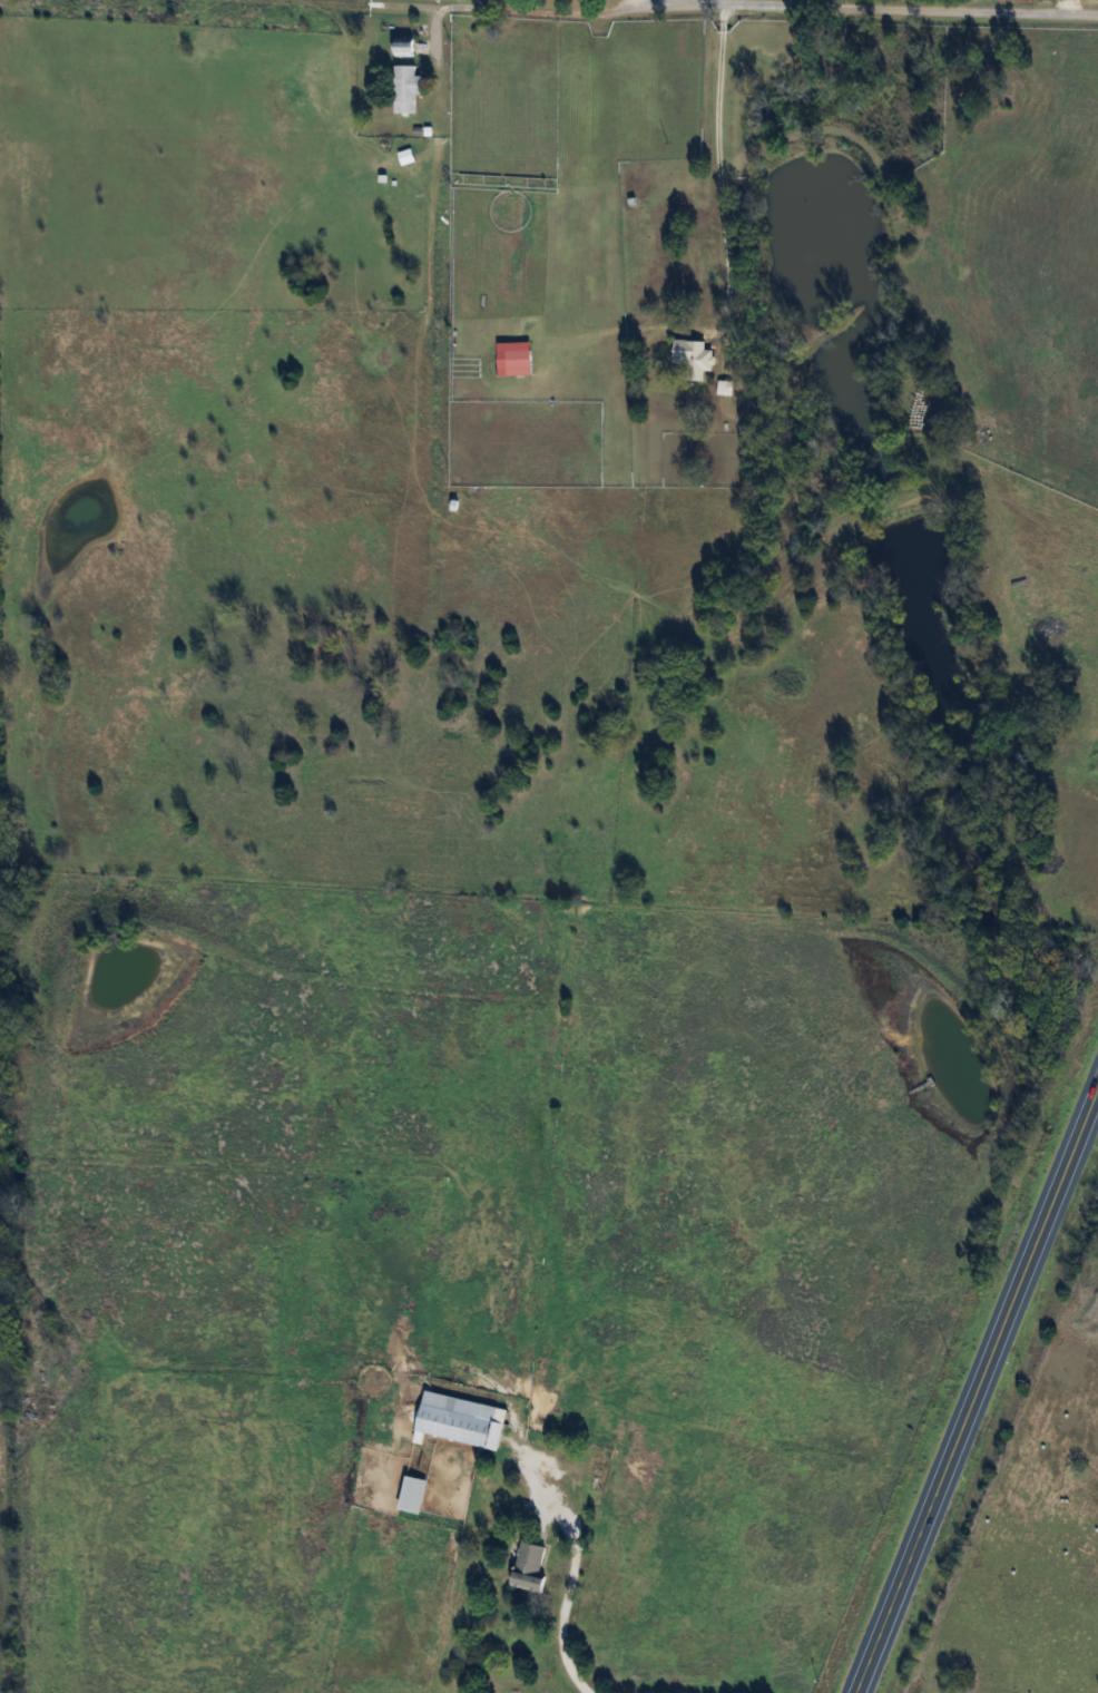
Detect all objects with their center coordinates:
road: (762, 4)
building: (406, 47)
building: (406, 88)
road: (718, 162)
building: (692, 358)
building: (519, 362)
road: (977, 1388)
building: (458, 1418)
building: (413, 1493)
building: (530, 1567)
road: (562, 1592)

